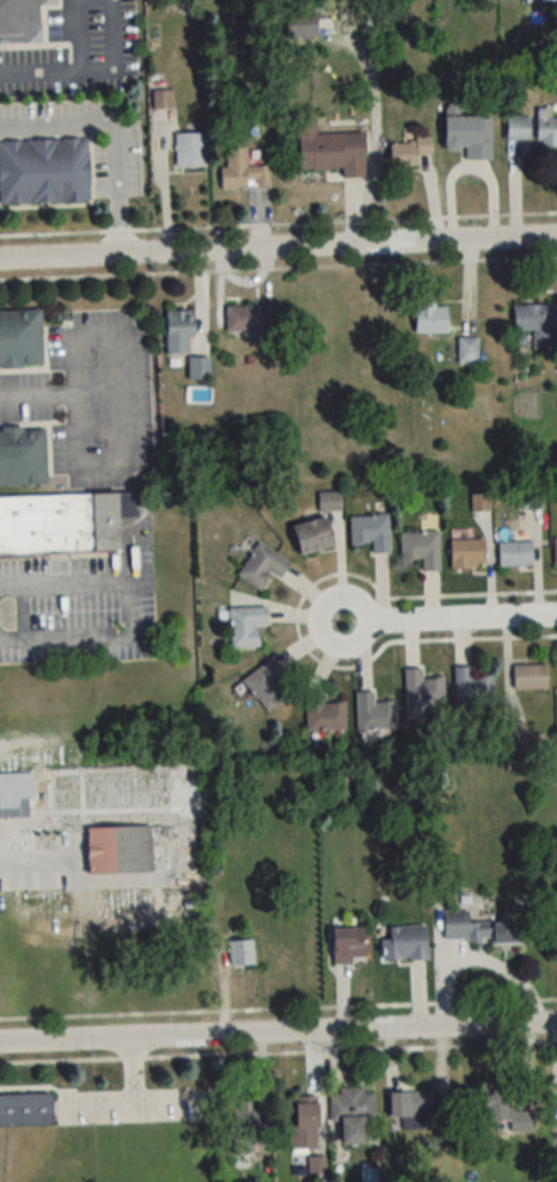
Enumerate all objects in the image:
building: (547, 1)
building: (20, 20)
road: (79, 36)
road: (118, 54)
road: (41, 73)
building: (518, 128)
building: (546, 128)
road: (120, 134)
building: (469, 135)
building: (189, 149)
building: (329, 149)
building: (409, 151)
building: (43, 171)
building: (241, 171)
road: (163, 183)
road: (278, 250)
building: (247, 318)
building: (430, 319)
building: (537, 323)
building: (178, 331)
building: (19, 338)
building: (467, 350)
building: (198, 368)
road: (39, 402)
road: (131, 406)
building: (22, 457)
building: (528, 498)
building: (329, 501)
building: (62, 525)
building: (371, 531)
building: (312, 535)
building: (421, 547)
building: (555, 550)
building: (466, 553)
building: (514, 553)
building: (262, 565)
road: (127, 607)
road: (448, 618)
building: (245, 625)
building: (530, 676)
building: (265, 684)
building: (471, 687)
building: (422, 690)
building: (323, 712)
building: (373, 712)
building: (515, 734)
building: (16, 794)
building: (117, 850)
road: (78, 881)
building: (477, 930)
building: (404, 943)
building: (348, 947)
building: (240, 953)
road: (278, 1034)
road: (158, 1094)
road: (129, 1095)
building: (411, 1104)
building: (25, 1109)
building: (506, 1111)
building: (354, 1115)
building: (304, 1122)
building: (240, 1127)
building: (553, 1160)

